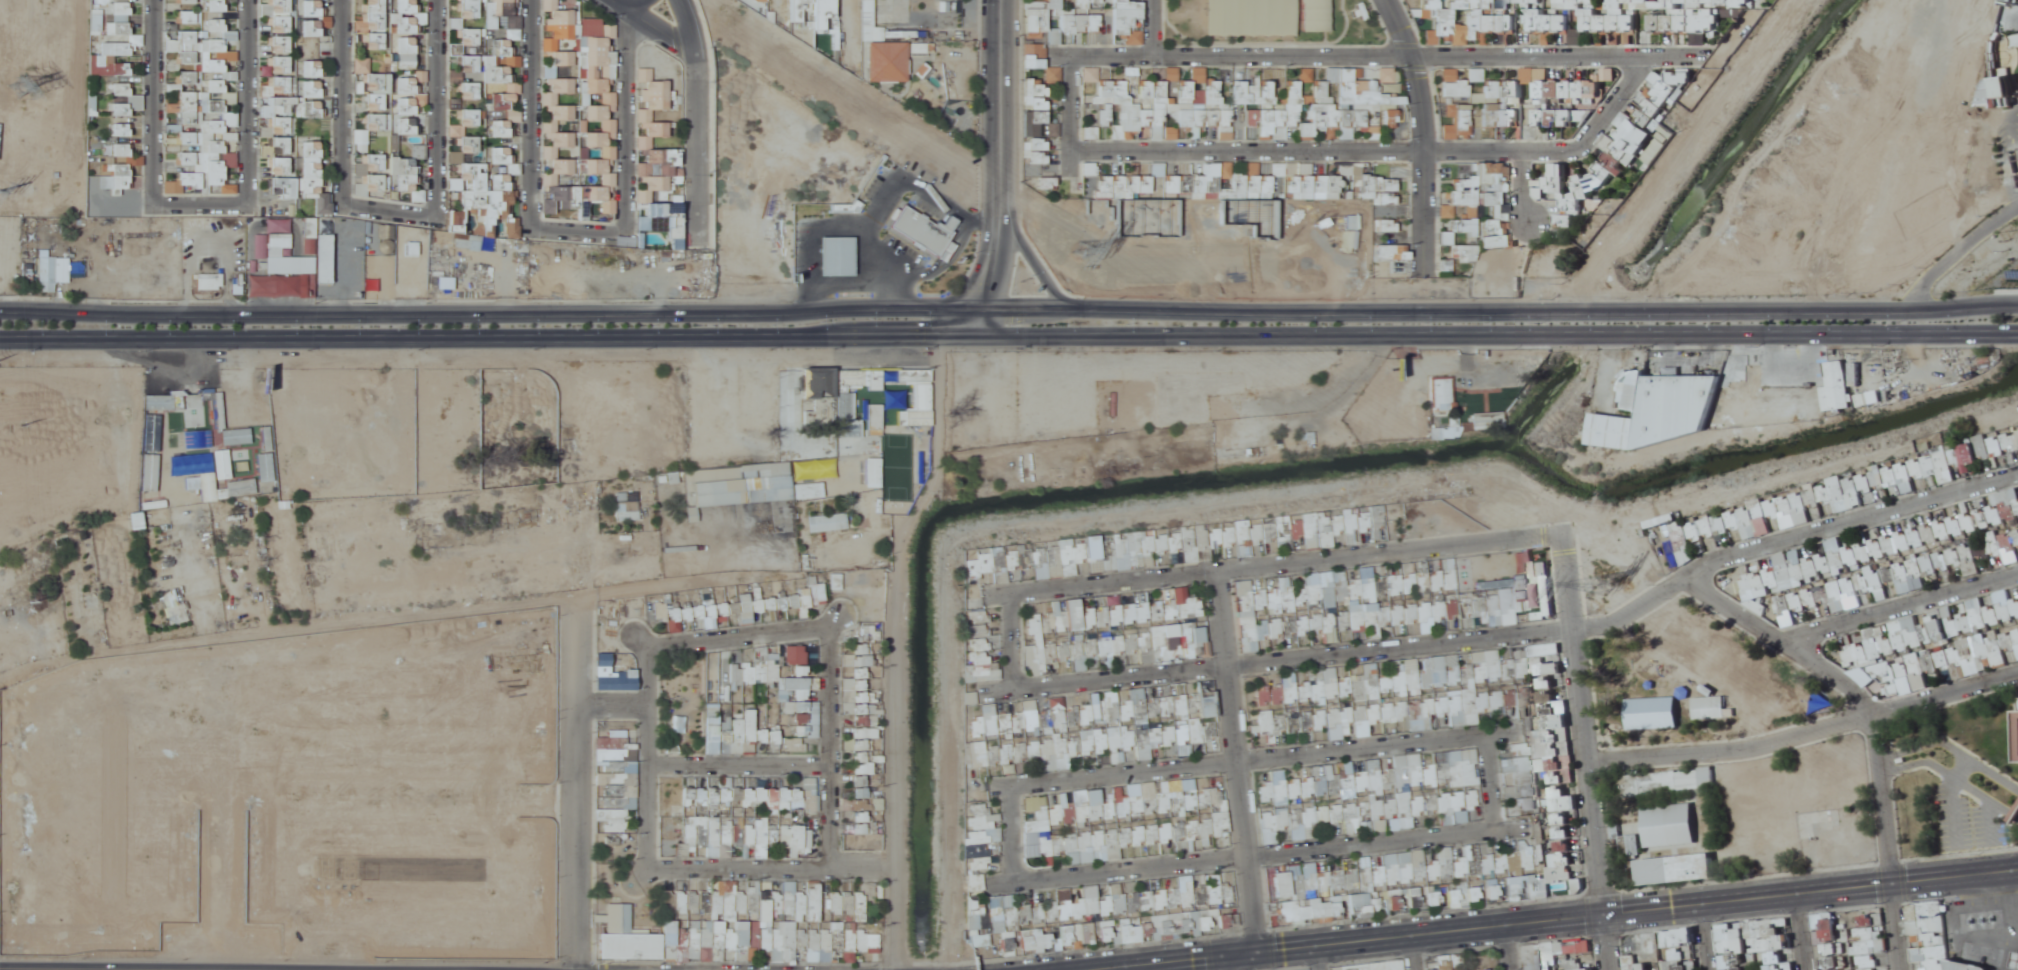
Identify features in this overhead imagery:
park: (1274, 21)
power tower: (16, 86)
power tower: (1084, 249)
power tower: (1603, 585)
gas station: (2015, 958)

